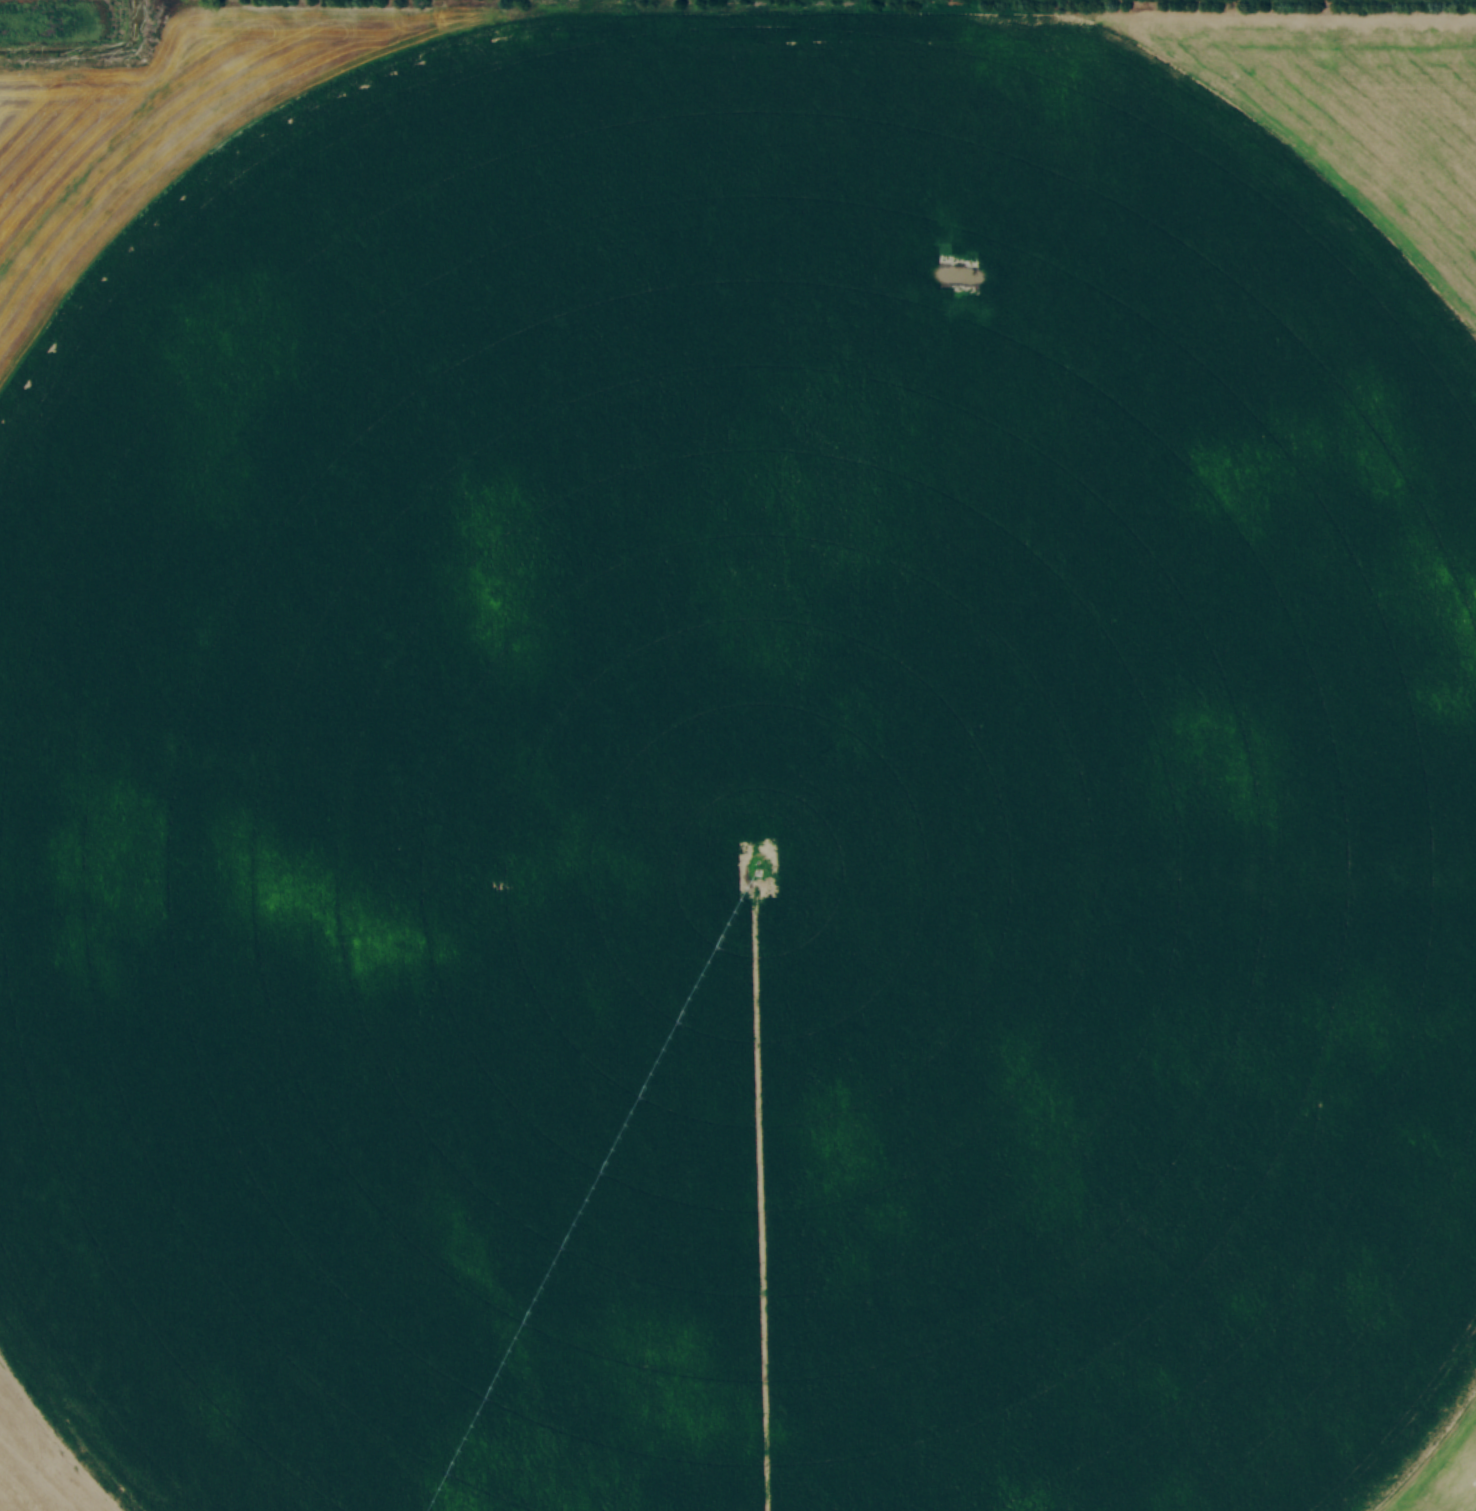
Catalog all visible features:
crop: (738, 761)

